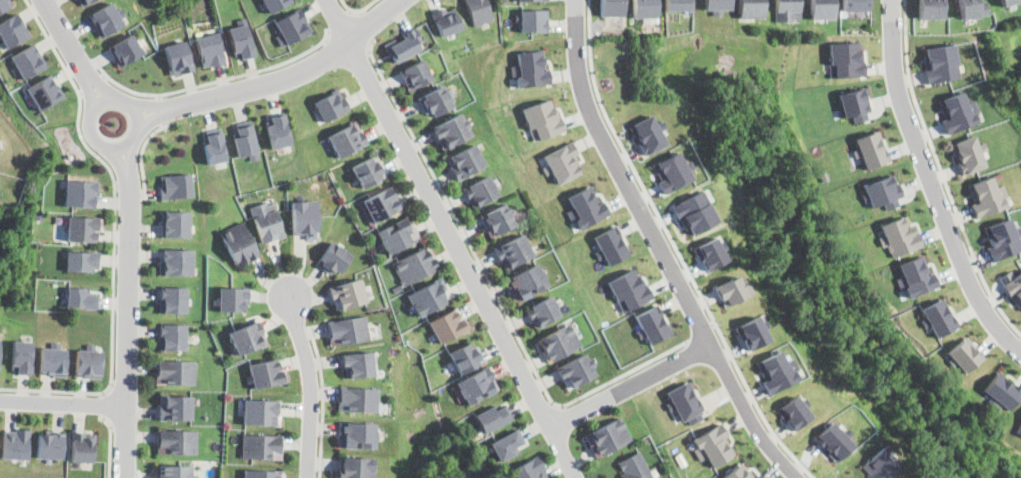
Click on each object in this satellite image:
building: (532, 0)
building: (85, 2)
building: (1007, 2)
building: (4, 4)
building: (275, 4)
building: (678, 5)
building: (856, 5)
building: (718, 6)
building: (612, 7)
building: (645, 8)
building: (971, 8)
road: (359, 9)
building: (752, 9)
building: (822, 9)
building: (930, 9)
building: (787, 10)
building: (479, 11)
building: (107, 19)
building: (533, 20)
building: (446, 21)
road: (342, 23)
road: (364, 26)
road: (59, 27)
building: (292, 27)
building: (12, 30)
building: (242, 39)
building: (404, 45)
building: (210, 49)
building: (126, 50)
building: (179, 58)
building: (846, 59)
building: (27, 60)
building: (940, 63)
building: (530, 69)
building: (415, 74)
road: (267, 80)
road: (211, 84)
road: (94, 86)
building: (44, 91)
building: (436, 100)
building: (856, 104)
building: (331, 105)
road: (162, 111)
building: (956, 113)
building: (543, 120)
building: (278, 130)
building: (451, 131)
building: (648, 134)
building: (347, 139)
building: (246, 140)
building: (214, 146)
building: (873, 149)
road: (142, 155)
building: (968, 155)
building: (465, 161)
building: (561, 163)
building: (369, 171)
building: (672, 172)
road: (943, 174)
road: (932, 183)
road: (130, 185)
building: (176, 186)
building: (480, 191)
building: (884, 192)
building: (80, 193)
building: (987, 197)
building: (381, 202)
building: (586, 207)
building: (693, 211)
building: (38, 217)
building: (304, 218)
building: (58, 219)
building: (497, 220)
building: (267, 221)
building: (175, 223)
building: (82, 228)
building: (397, 234)
road: (114, 235)
building: (900, 236)
road: (452, 239)
building: (1002, 239)
building: (238, 243)
building: (611, 245)
road: (659, 249)
road: (675, 249)
building: (513, 251)
building: (709, 254)
building: (333, 258)
road: (130, 259)
building: (81, 260)
building: (177, 262)
building: (413, 265)
building: (915, 277)
building: (525, 282)
building: (1012, 286)
building: (397, 288)
road: (492, 288)
building: (629, 290)
building: (730, 290)
building: (347, 294)
building: (428, 296)
building: (81, 298)
building: (232, 298)
building: (173, 299)
building: (543, 311)
building: (938, 318)
building: (447, 324)
building: (652, 324)
building: (347, 331)
road: (700, 332)
building: (751, 333)
building: (172, 336)
building: (247, 336)
building: (559, 342)
building: (963, 354)
building: (22, 356)
building: (465, 357)
building: (53, 360)
building: (89, 362)
building: (358, 364)
building: (576, 370)
building: (175, 371)
building: (776, 371)
building: (266, 373)
road: (311, 385)
building: (476, 385)
road: (629, 385)
building: (1002, 391)
building: (357, 399)
road: (63, 401)
road: (323, 402)
building: (685, 402)
road: (107, 405)
building: (174, 407)
building: (261, 412)
building: (793, 412)
building: (492, 417)
building: (1019, 429)
building: (356, 434)
building: (608, 436)
building: (834, 441)
building: (176, 442)
building: (16, 444)
building: (50, 444)
building: (506, 444)
building: (712, 444)
building: (82, 446)
road: (110, 446)
building: (261, 446)
building: (880, 464)
building: (354, 467)
building: (635, 467)
building: (530, 469)
building: (173, 471)
building: (739, 472)
building: (262, 473)

